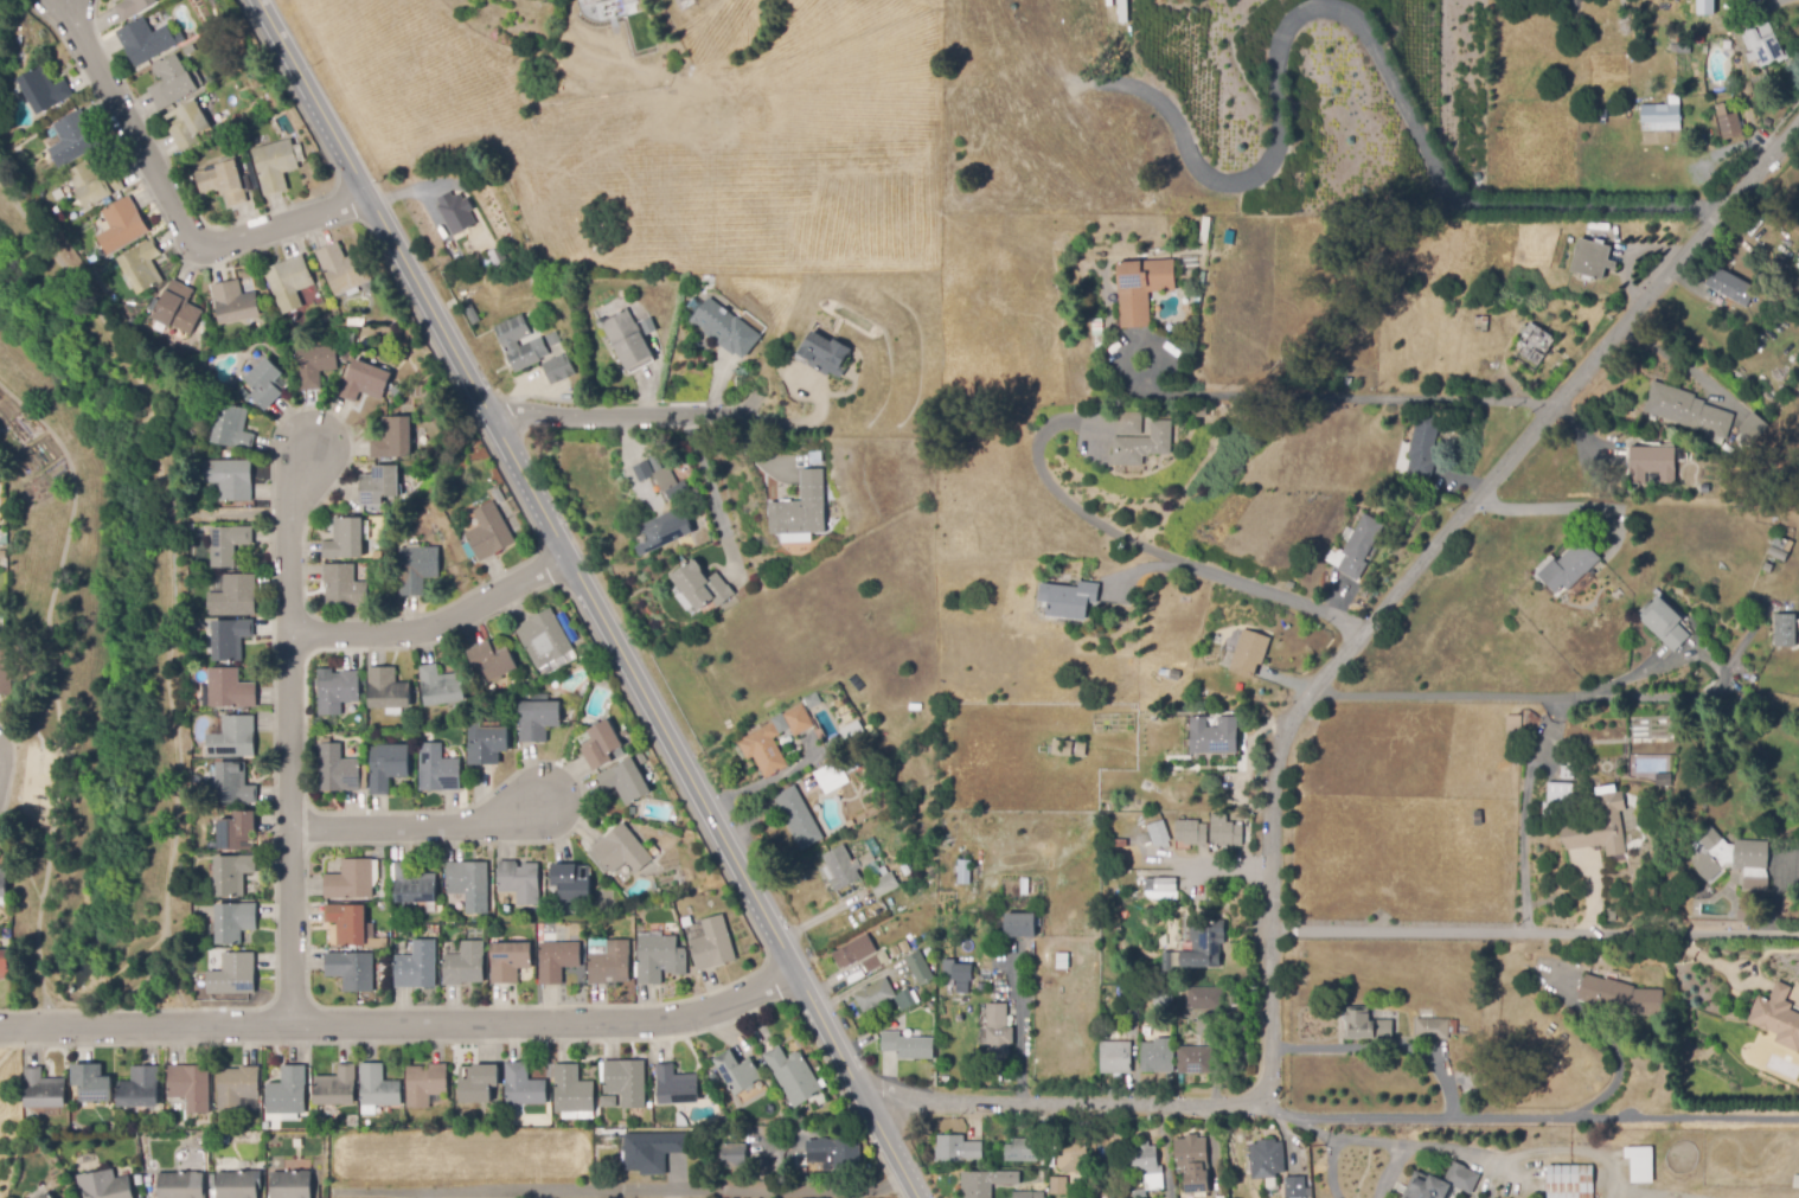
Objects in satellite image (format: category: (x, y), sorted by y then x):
building: (595, 0)
building: (606, 0)
building: (698, 0)
building: (684, 1)
building: (1752, 2)
building: (1574, 4)
building: (134, 7)
building: (1705, 7)
road: (1370, 33)
building: (1692, 39)
building: (147, 41)
building: (1763, 45)
building: (173, 83)
building: (44, 91)
building: (273, 103)
building: (1660, 114)
building: (1611, 115)
building: (1730, 123)
building: (1767, 123)
building: (190, 126)
building: (73, 139)
building: (276, 165)
building: (223, 181)
building: (94, 185)
road: (173, 203)
building: (456, 214)
building: (119, 226)
building: (1069, 233)
building: (497, 255)
building: (1780, 257)
building: (1592, 260)
building: (142, 267)
building: (345, 271)
building: (1733, 276)
building: (290, 281)
building: (1141, 289)
building: (1792, 289)
building: (235, 302)
building: (177, 309)
building: (472, 314)
building: (296, 318)
building: (325, 319)
building: (356, 322)
building: (1480, 325)
building: (481, 328)
building: (725, 328)
building: (348, 338)
building: (626, 339)
building: (510, 344)
building: (1534, 347)
building: (822, 352)
building: (313, 366)
building: (559, 370)
building: (1448, 378)
building: (365, 382)
building: (265, 384)
building: (244, 393)
road: (1288, 398)
building: (1688, 410)
building: (1201, 411)
road: (615, 414)
building: (1129, 423)
building: (1754, 428)
building: (232, 429)
building: (393, 440)
building: (1144, 444)
building: (1422, 446)
building: (653, 459)
building: (1653, 463)
building: (642, 472)
building: (664, 478)
building: (230, 479)
building: (379, 485)
building: (677, 489)
road: (711, 497)
road: (1560, 506)
building: (802, 508)
building: (1415, 508)
building: (469, 512)
road: (231, 513)
building: (366, 531)
building: (487, 534)
building: (660, 534)
road: (1128, 538)
building: (345, 540)
building: (228, 545)
building: (1361, 546)
building: (1779, 549)
building: (2, 556)
building: (1569, 568)
building: (417, 569)
building: (344, 585)
building: (1291, 585)
building: (702, 587)
building: (235, 596)
road: (588, 597)
building: (1069, 600)
road: (172, 603)
building: (1664, 623)
road: (436, 624)
building: (1787, 630)
park: (91, 634)
building: (544, 638)
building: (230, 639)
building: (1249, 653)
road: (1708, 656)
building: (493, 660)
building: (581, 660)
building: (5, 673)
building: (1174, 674)
building: (441, 686)
building: (193, 688)
building: (230, 690)
building: (388, 691)
road: (52, 692)
building: (338, 692)
building: (813, 700)
building: (539, 719)
building: (798, 720)
road: (27, 723)
building: (1513, 728)
building: (853, 733)
road: (1300, 733)
road: (289, 735)
building: (1214, 736)
building: (233, 738)
building: (487, 743)
building: (602, 745)
building: (764, 750)
building: (1074, 750)
building: (640, 758)
building: (386, 765)
building: (340, 770)
building: (438, 770)
building: (826, 775)
building: (898, 777)
building: (1664, 780)
building: (625, 782)
building: (233, 784)
building: (1560, 795)
building: (633, 812)
building: (799, 819)
building: (1478, 819)
road: (1526, 819)
road: (417, 825)
building: (1601, 827)
building: (238, 832)
building: (1224, 832)
building: (1191, 833)
building: (1155, 834)
building: (1118, 844)
building: (622, 850)
building: (654, 851)
building: (1730, 854)
building: (841, 867)
building: (965, 872)
building: (232, 875)
building: (621, 876)
building: (353, 879)
building: (572, 882)
building: (4, 883)
building: (469, 883)
building: (412, 884)
building: (518, 884)
building: (1756, 884)
building: (884, 885)
building: (1163, 885)
building: (380, 909)
building: (1748, 912)
building: (235, 922)
building: (350, 923)
building: (1020, 924)
building: (666, 928)
road: (1662, 934)
building: (712, 944)
building: (1204, 944)
building: (854, 952)
building: (896, 952)
building: (659, 959)
building: (510, 961)
building: (557, 961)
building: (462, 962)
building: (872, 963)
building: (5, 965)
building: (416, 965)
building: (610, 965)
building: (920, 968)
building: (352, 970)
building: (956, 970)
building: (233, 974)
road: (172, 976)
building: (884, 997)
building: (1621, 998)
building: (1204, 999)
building: (1778, 1017)
building: (1132, 1023)
road: (402, 1024)
building: (1164, 1025)
building: (1366, 1026)
building: (1454, 1027)
building: (1432, 1030)
building: (999, 1031)
building: (907, 1045)
road: (1389, 1048)
building: (1115, 1057)
building: (1157, 1058)
building: (1195, 1059)
building: (737, 1072)
building: (793, 1076)
road: (1620, 1077)
building: (627, 1082)
building: (91, 1083)
building: (478, 1083)
building: (425, 1084)
building: (523, 1085)
building: (190, 1087)
building: (237, 1087)
building: (337, 1087)
building: (377, 1087)
building: (678, 1087)
building: (140, 1088)
building: (44, 1090)
building: (572, 1091)
building: (287, 1094)
park: (8, 1113)
road: (1525, 1122)
building: (956, 1149)
building: (1026, 1149)
building: (652, 1152)
building: (1191, 1152)
building: (834, 1153)
building: (1071, 1153)
building: (734, 1154)
building: (1267, 1160)
building: (1639, 1162)
building: (1146, 1164)
building: (801, 1172)
building: (1570, 1181)
building: (985, 1183)
building: (1195, 1183)
building: (1442, 1184)
building: (178, 1185)
building: (237, 1185)
building: (290, 1185)
building: (1058, 1186)
building: (111, 1187)
building: (1295, 1189)
road: (622, 1190)
building: (47, 1196)
building: (1027, 1196)

